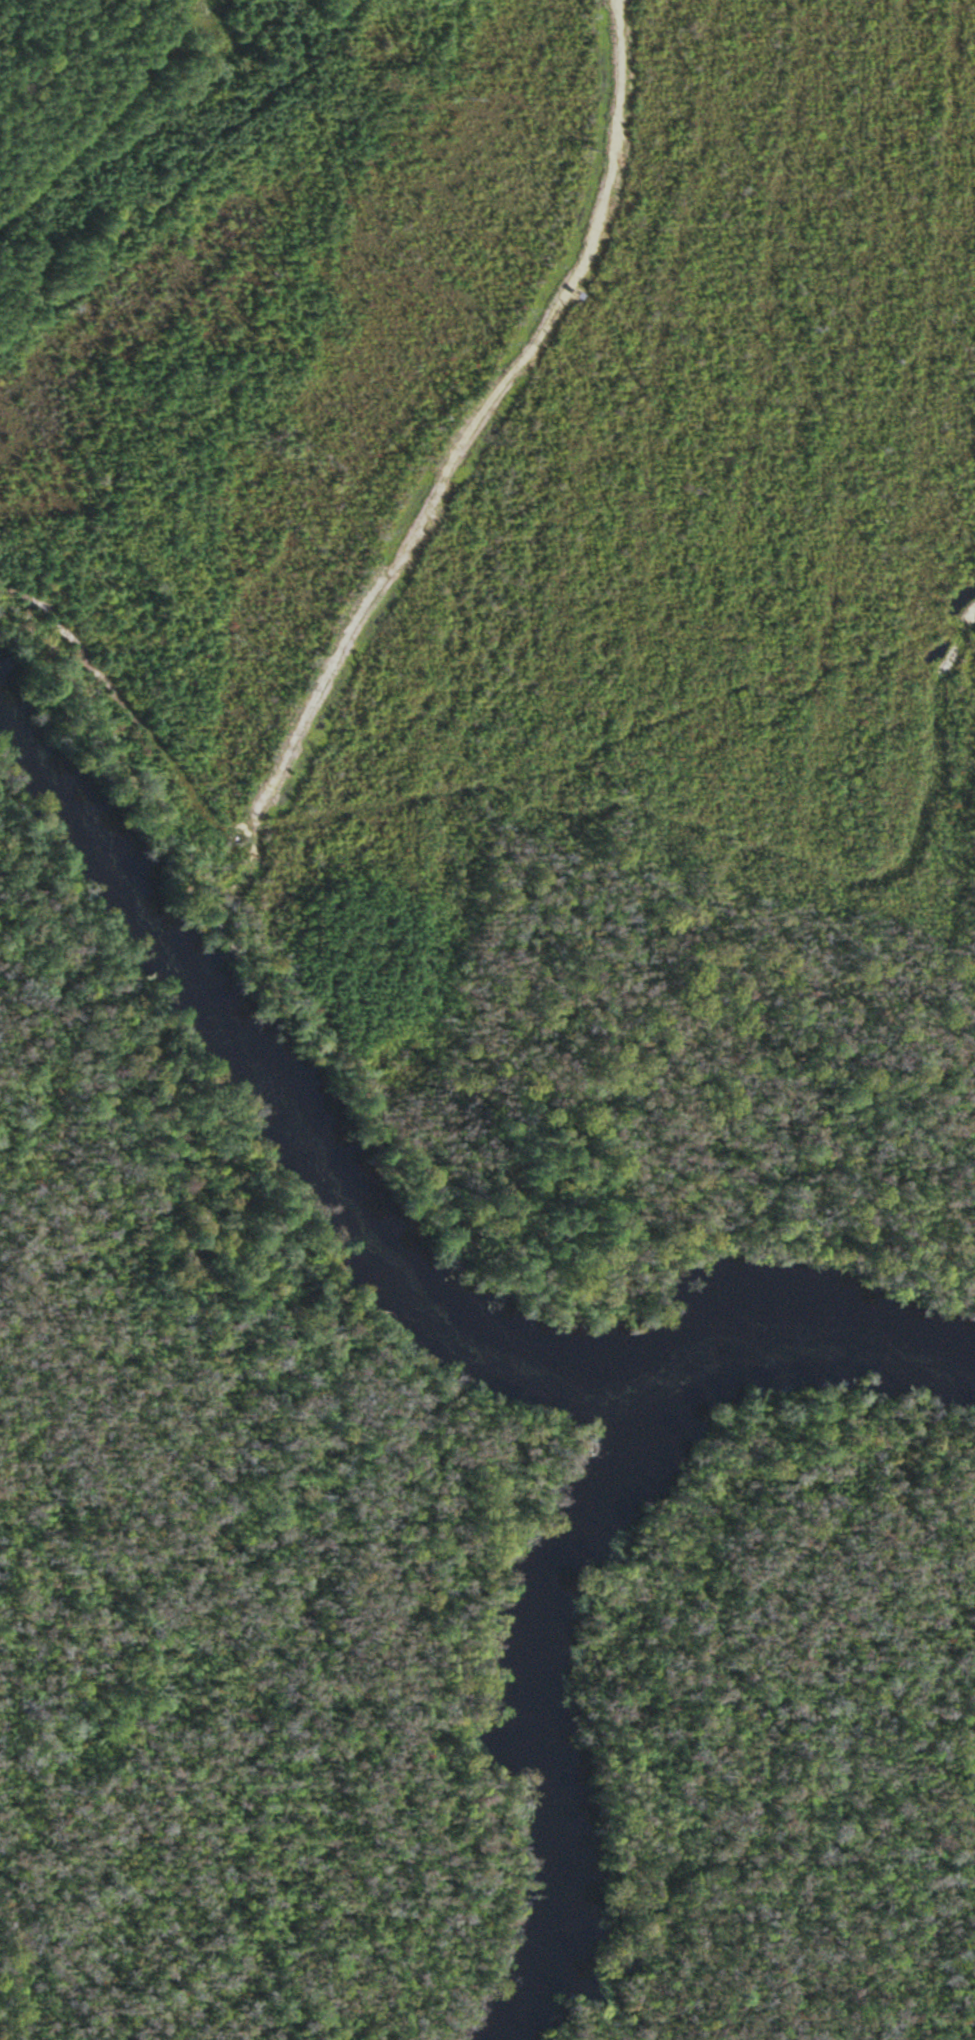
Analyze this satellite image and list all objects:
river: (813, 1342)
river: (538, 1704)

